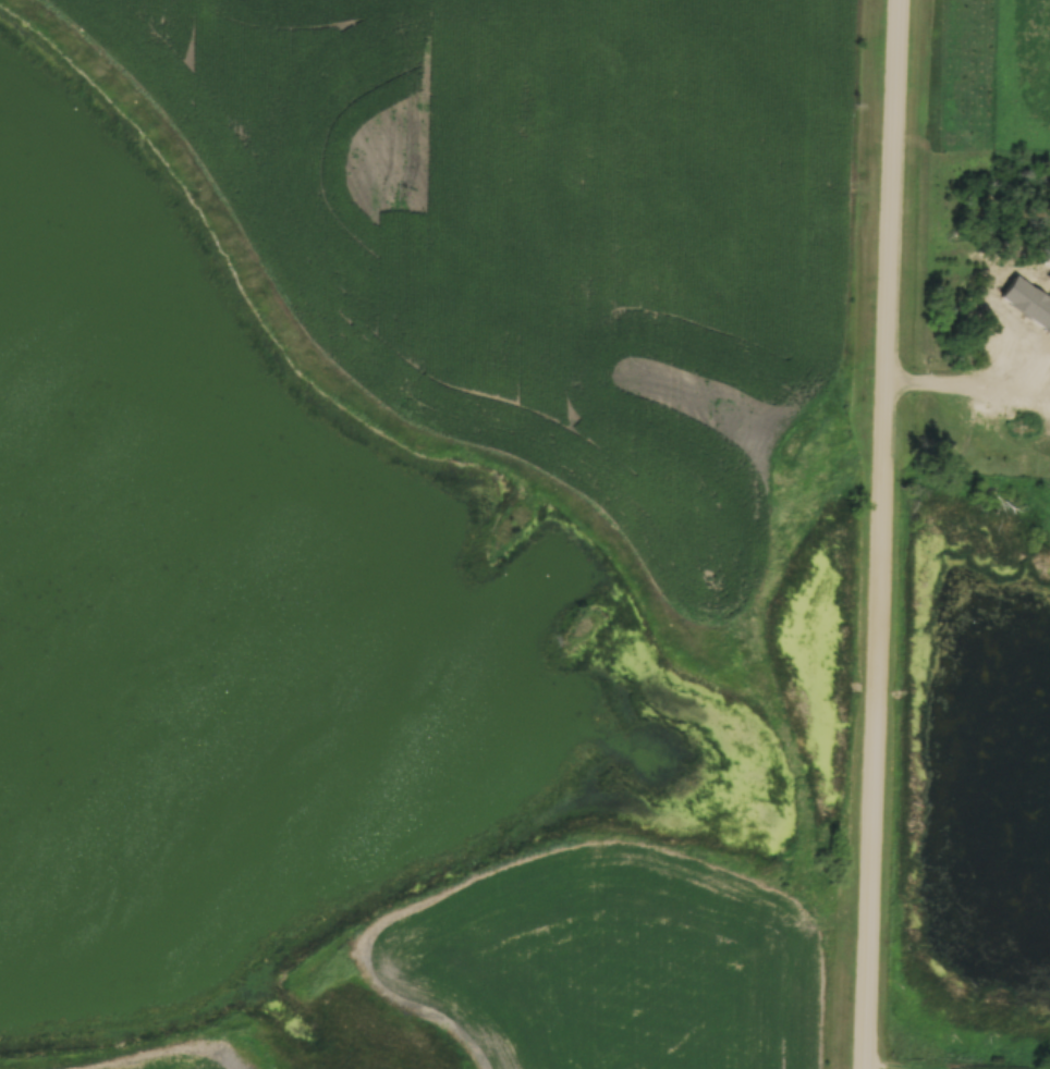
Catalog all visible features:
building: (1013, 344)
road: (881, 534)

